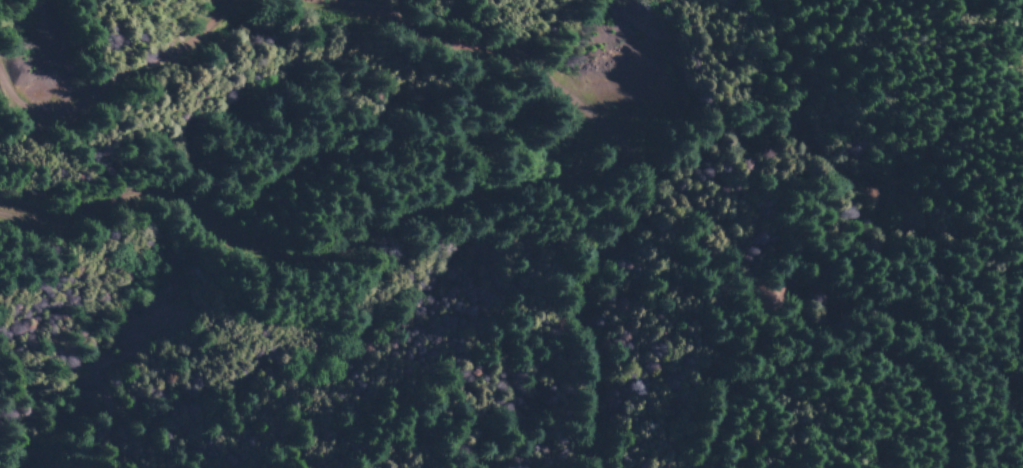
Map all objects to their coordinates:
road: (344, 171)
road: (637, 220)

